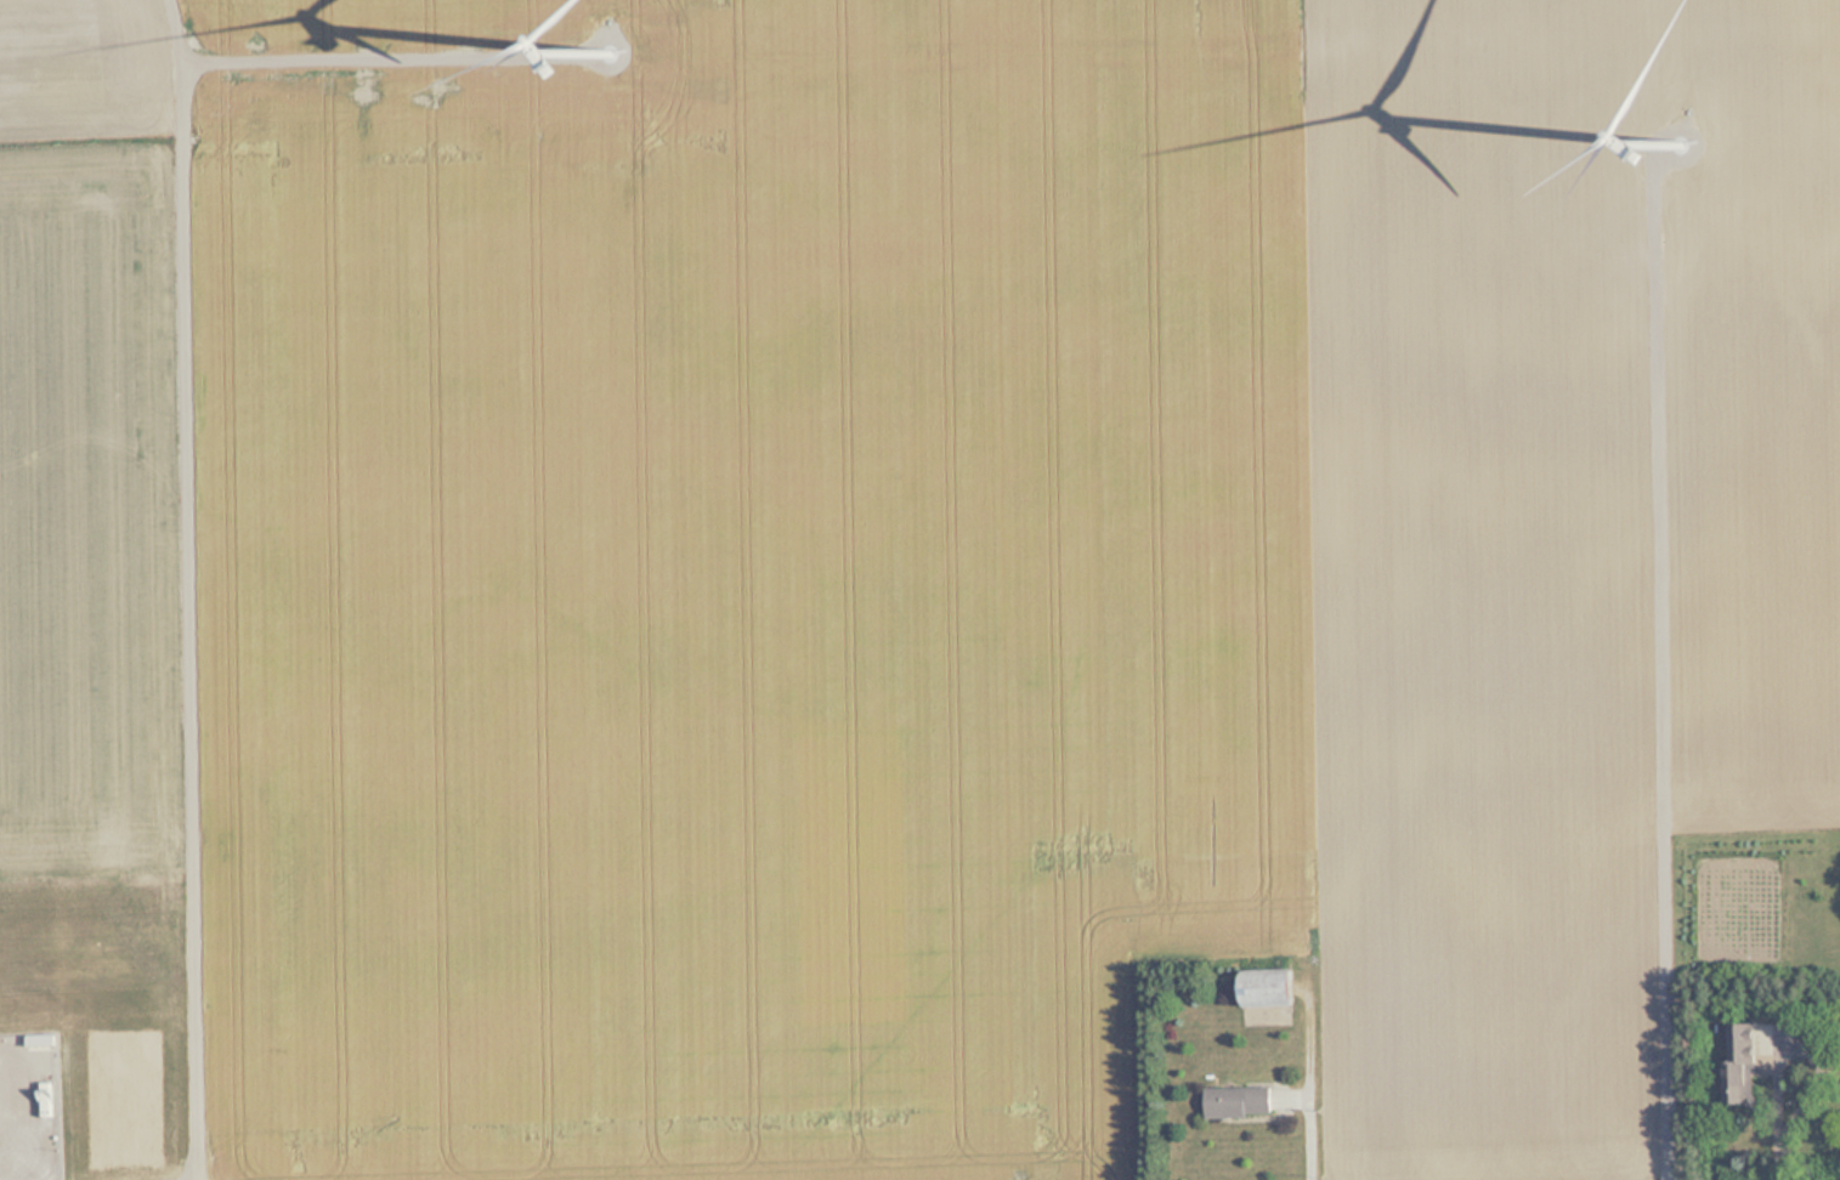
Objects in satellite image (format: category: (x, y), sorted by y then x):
wind turbine: (610, 63)
wind turbine: (1694, 151)
road: (192, 589)
building: (1270, 987)
building: (1744, 1065)
building: (1241, 1102)

